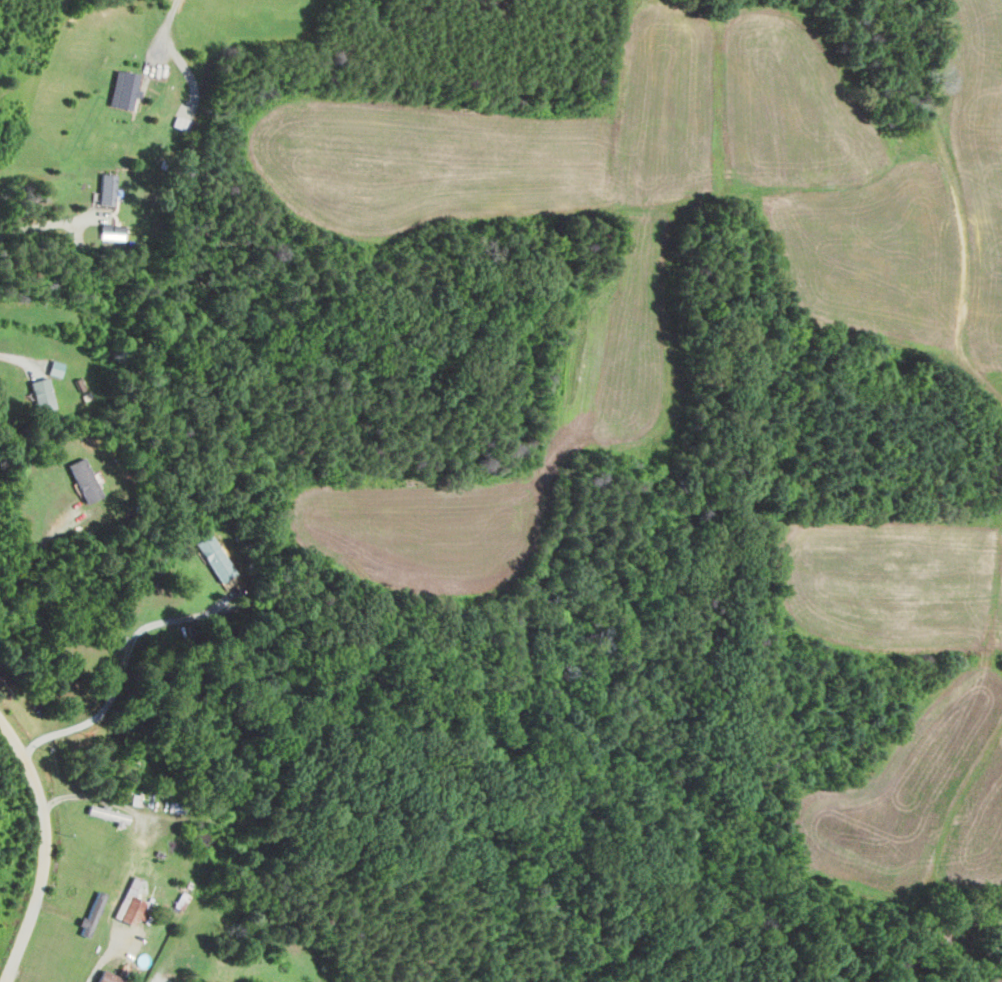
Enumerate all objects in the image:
road: (162, 34)
building: (123, 89)
building: (106, 188)
building: (113, 232)
building: (55, 368)
building: (41, 393)
building: (83, 480)
building: (214, 557)
building: (107, 812)
road: (38, 849)
building: (131, 904)
building: (91, 913)
building: (109, 977)
road: (1000, 977)

